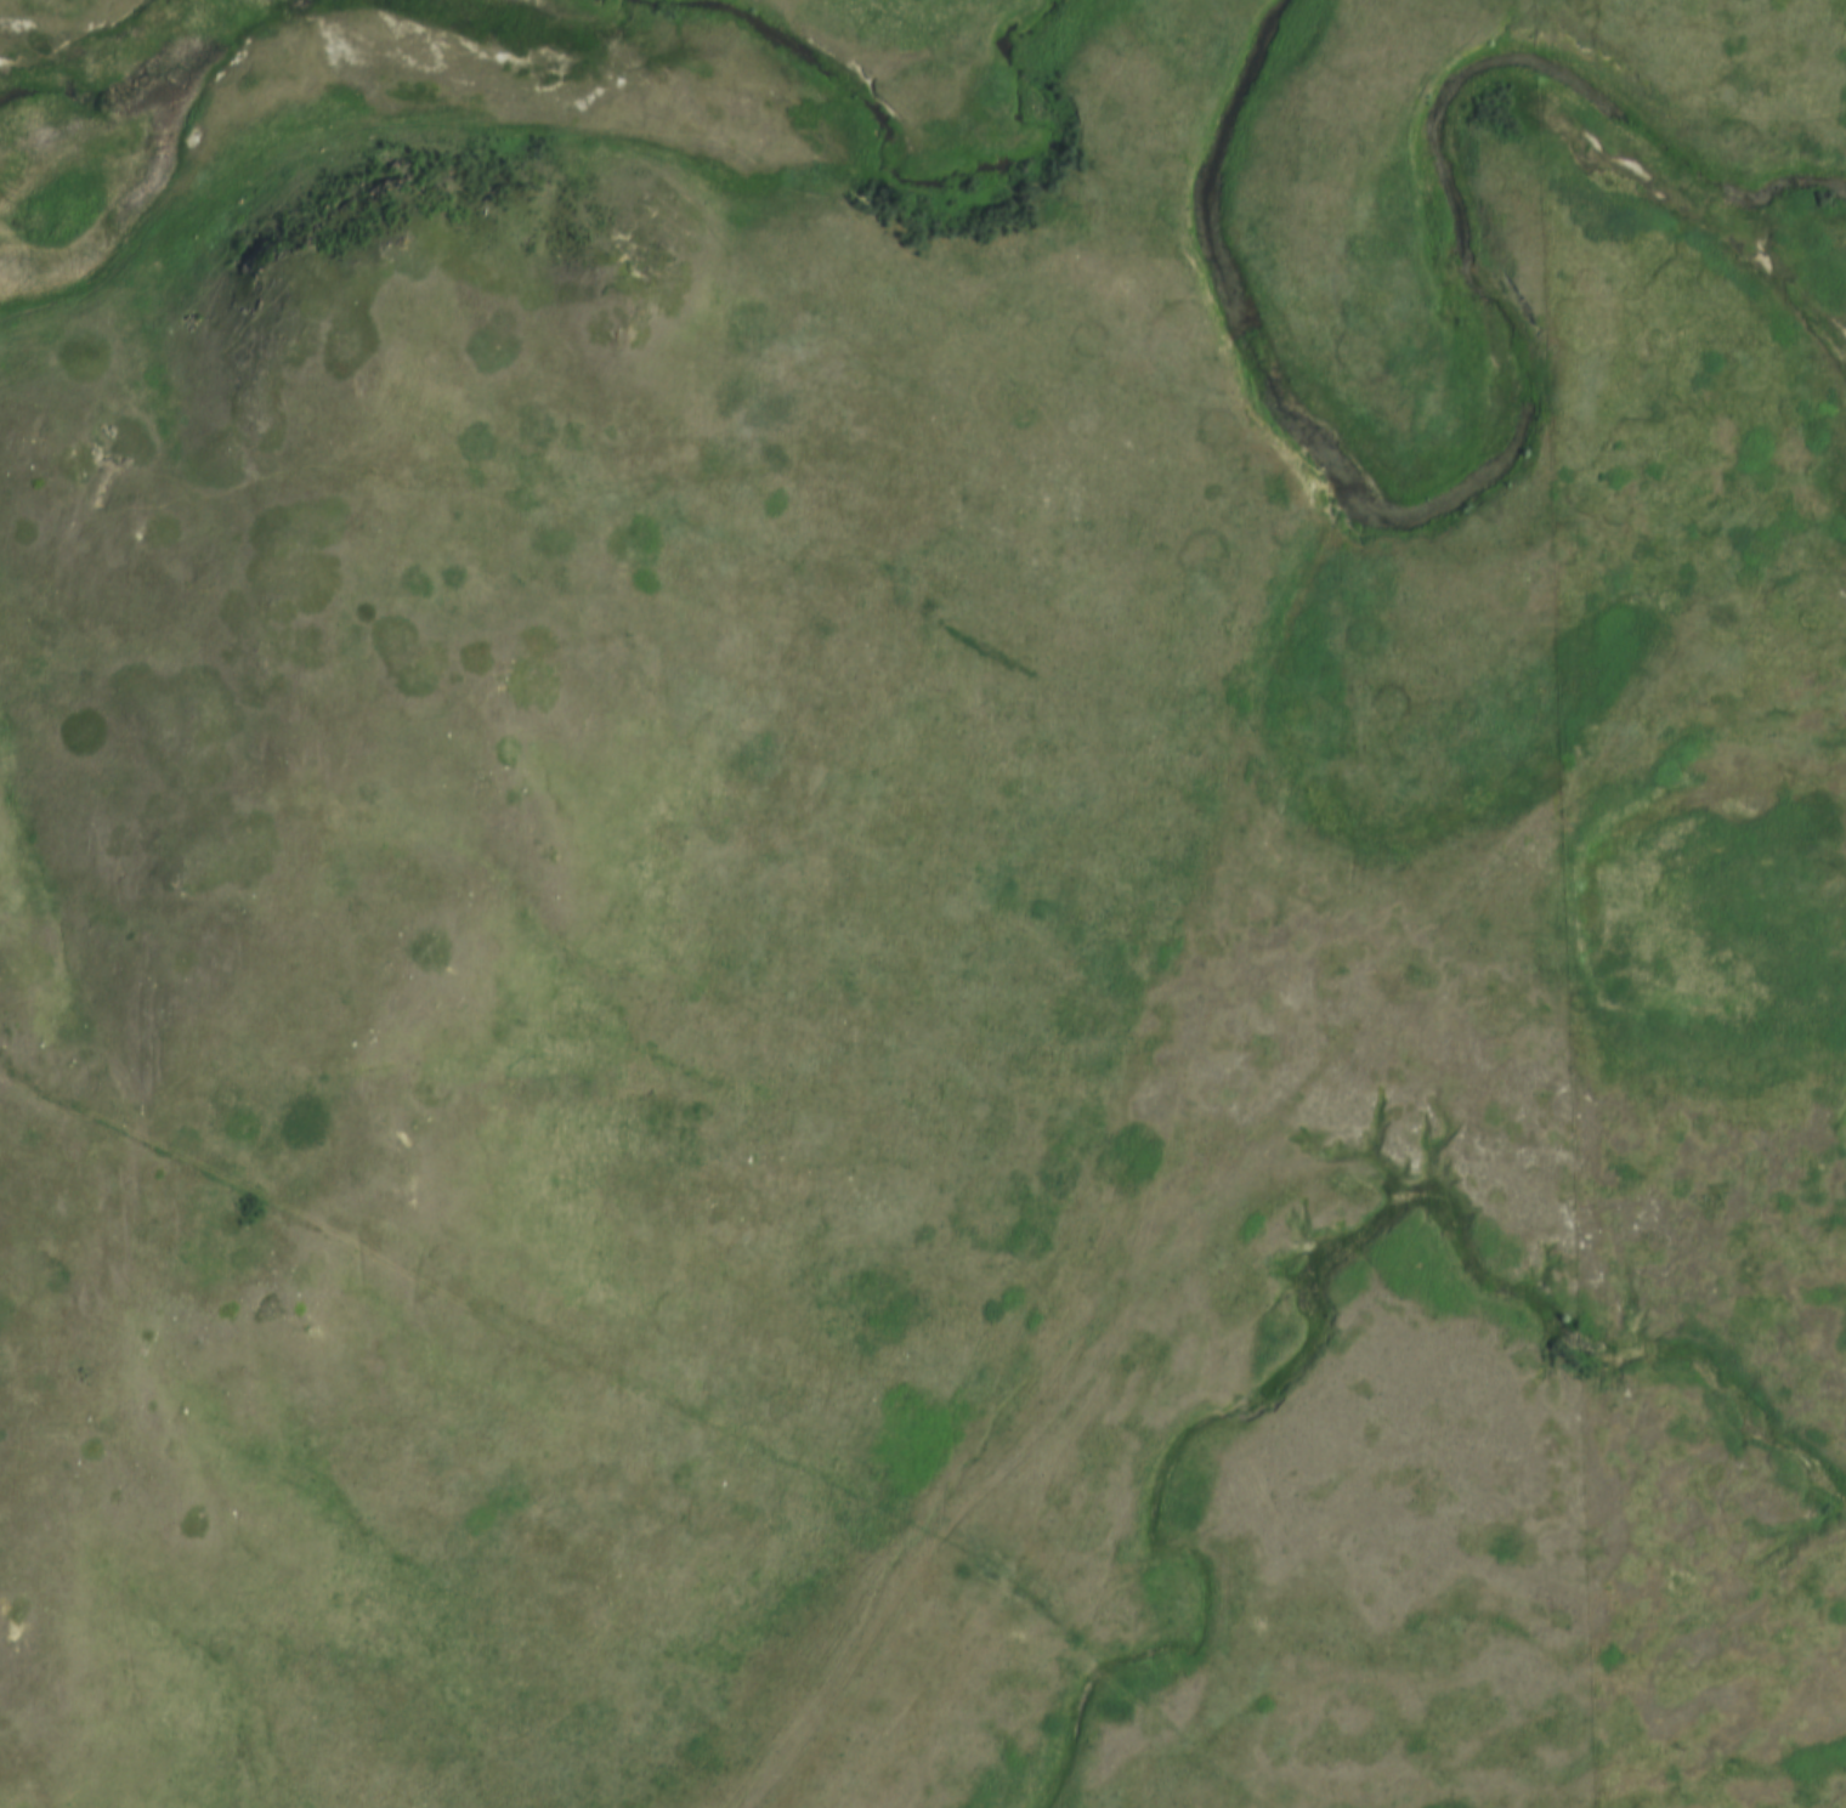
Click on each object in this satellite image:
road: (1279, 1141)
road: (1315, 1563)

